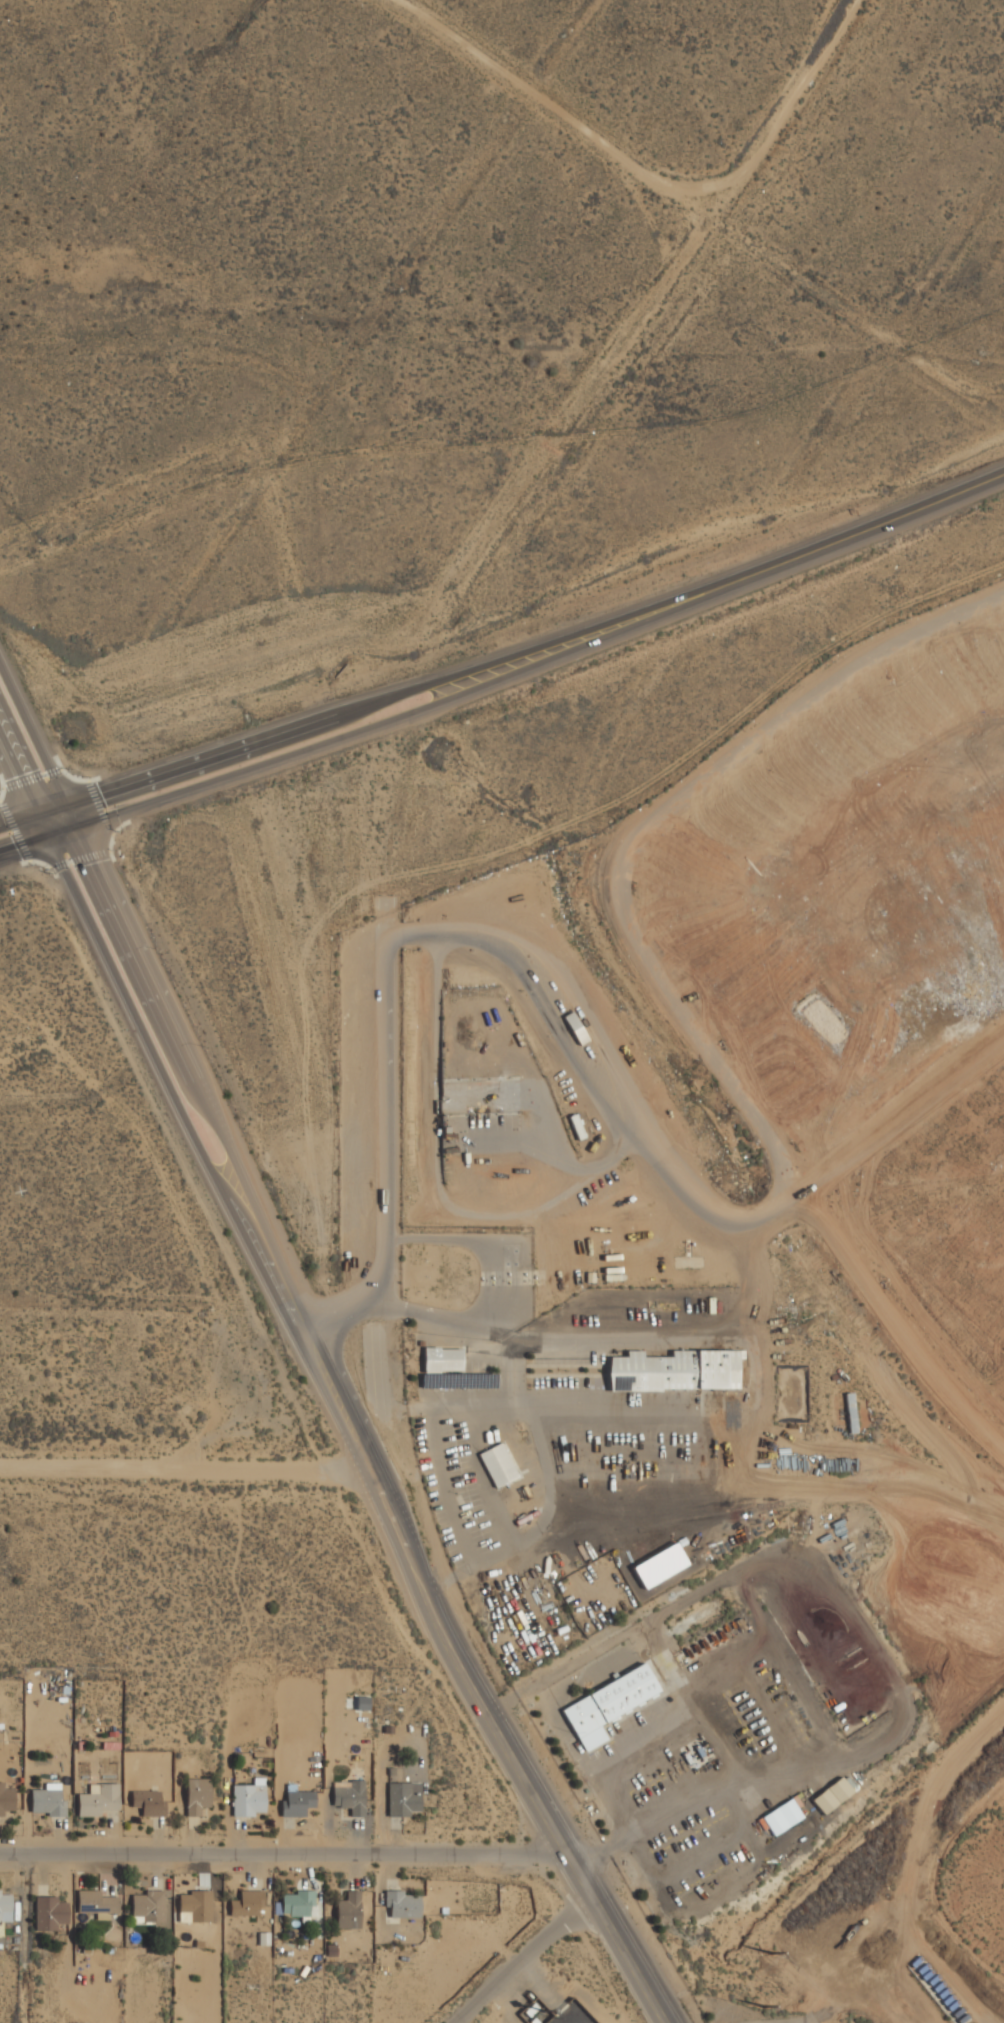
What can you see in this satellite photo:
road: (547, 98)
road: (792, 100)
road: (878, 523)
road: (411, 691)
road: (31, 731)
road: (382, 731)
road: (17, 774)
traffic signals: (68, 801)
road: (51, 806)
traffic signals: (34, 812)
road: (17, 817)
traffic signals: (85, 829)
traffic signals: (50, 840)
landfill: (849, 968)
road: (399, 986)
road: (194, 1062)
road: (161, 1075)
road: (494, 1289)
road: (707, 1329)
building: (442, 1360)
building: (675, 1371)
building: (497, 1465)
road: (187, 1470)
building: (659, 1566)
road: (715, 1580)
road: (477, 1682)
building: (607, 1704)
building: (831, 1795)
building: (196, 1796)
power tower: (936, 1796)
building: (349, 1798)
building: (403, 1799)
building: (6, 1800)
building: (97, 1800)
building: (247, 1800)
building: (47, 1801)
building: (296, 1802)
building: (148, 1803)
building: (780, 1817)
road: (658, 1818)
road: (286, 1853)
landfill: (895, 1899)
building: (5, 1903)
building: (96, 1904)
building: (246, 1904)
building: (298, 1904)
building: (401, 1904)
building: (148, 1906)
building: (194, 1907)
building: (348, 1911)
building: (49, 1913)
road: (526, 1958)
power substation: (534, 2007)

